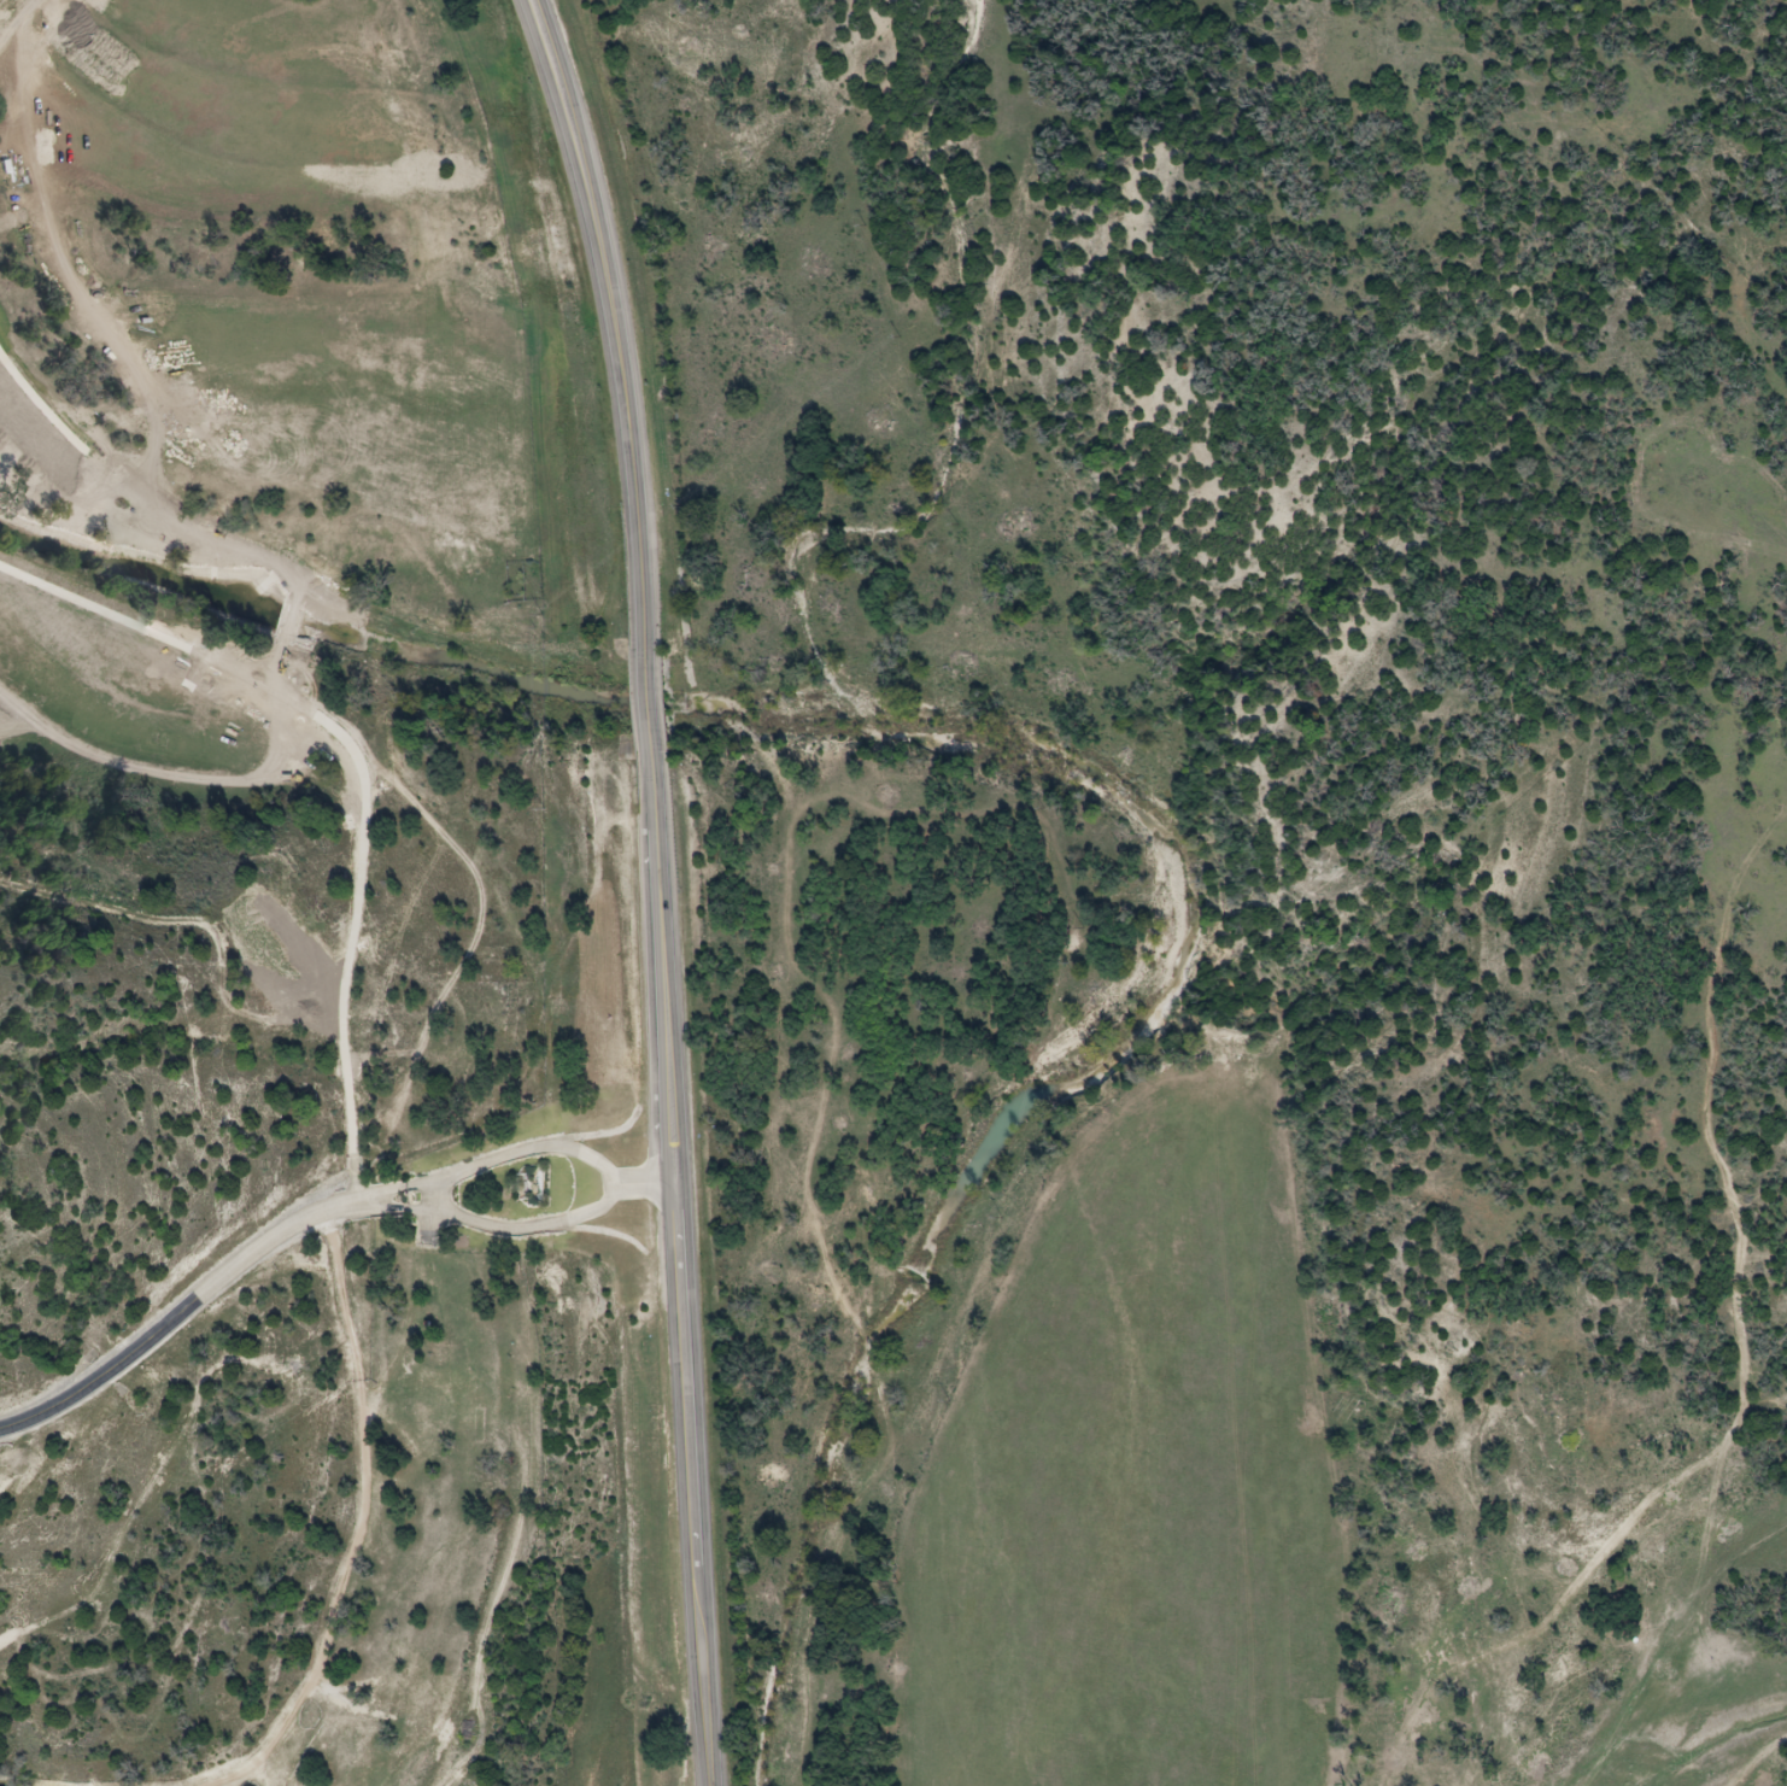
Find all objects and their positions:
road: (666, 886)
road: (652, 1183)
road: (441, 1198)
road: (367, 1202)
road: (182, 1313)
road: (364, 1529)

